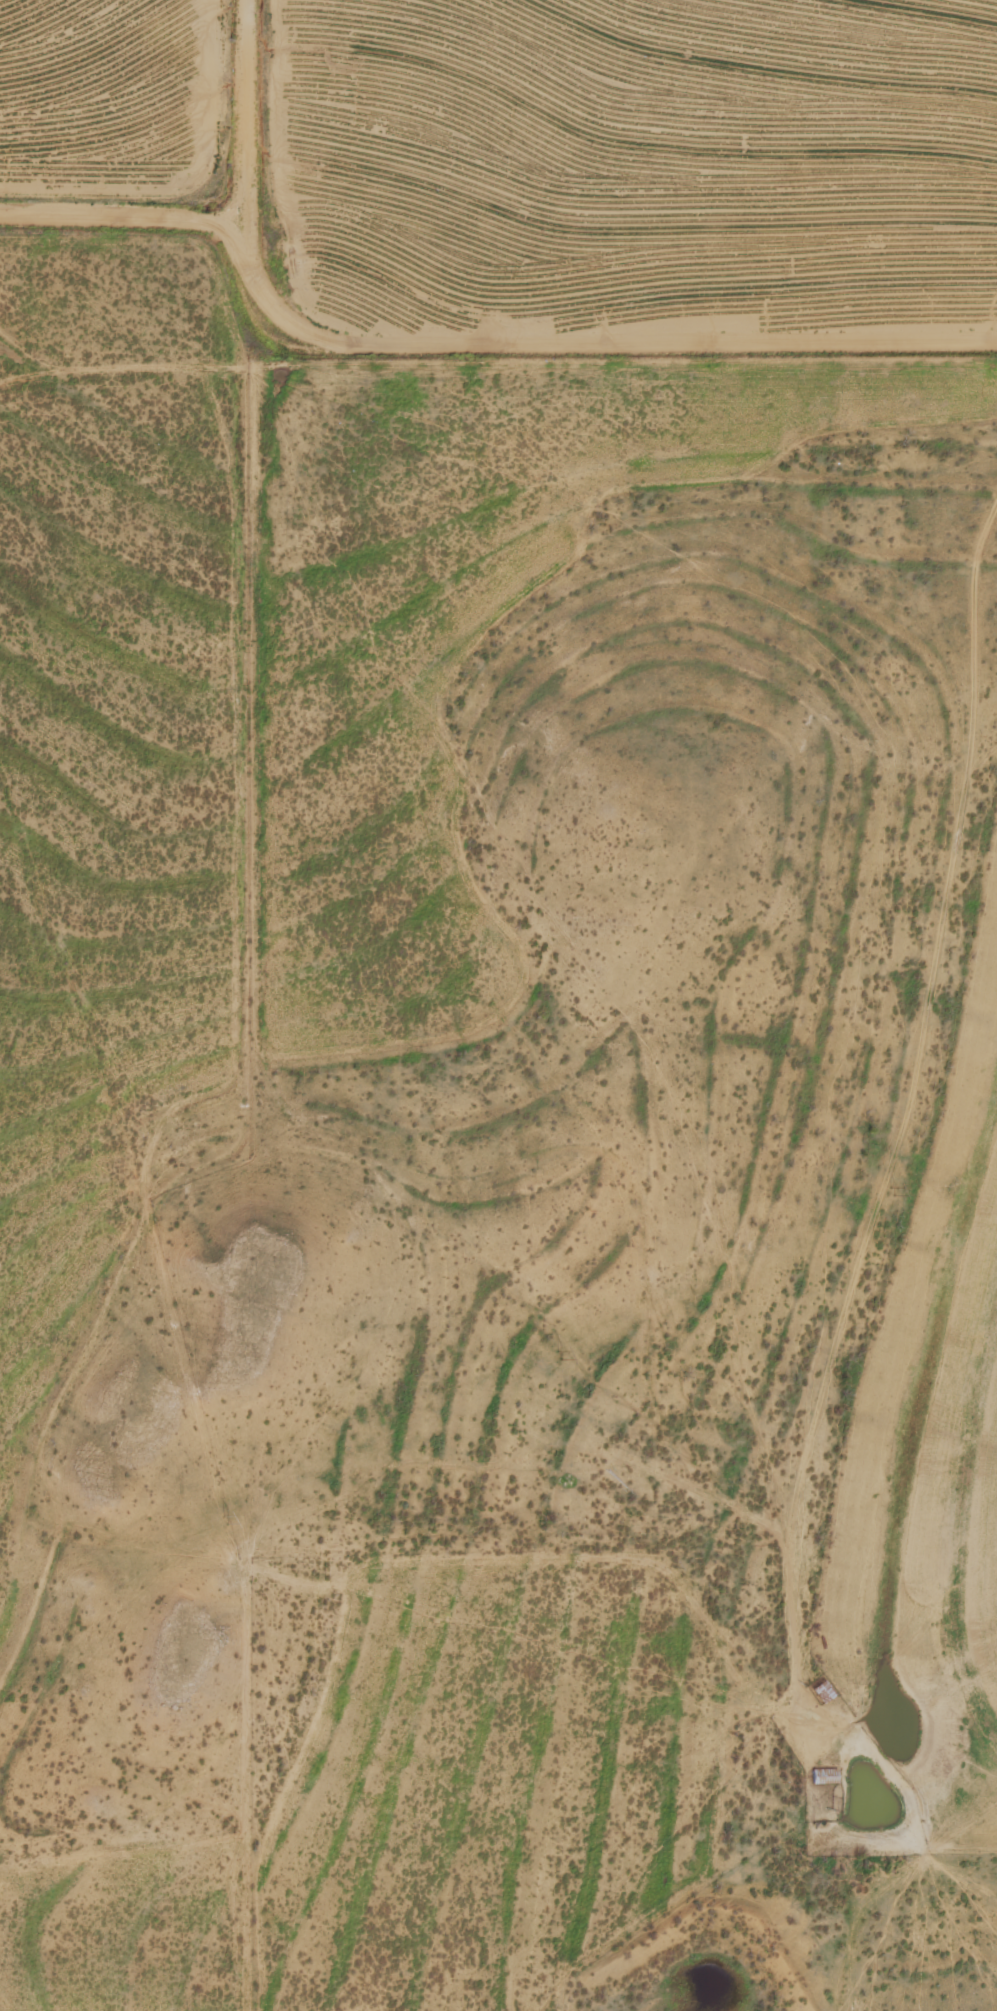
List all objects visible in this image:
road: (248, 122)
road: (470, 342)
road: (904, 1147)
power tower: (893, 1185)
power tower: (558, 1347)
power tower: (227, 1516)
building: (826, 1691)
building: (829, 1776)

